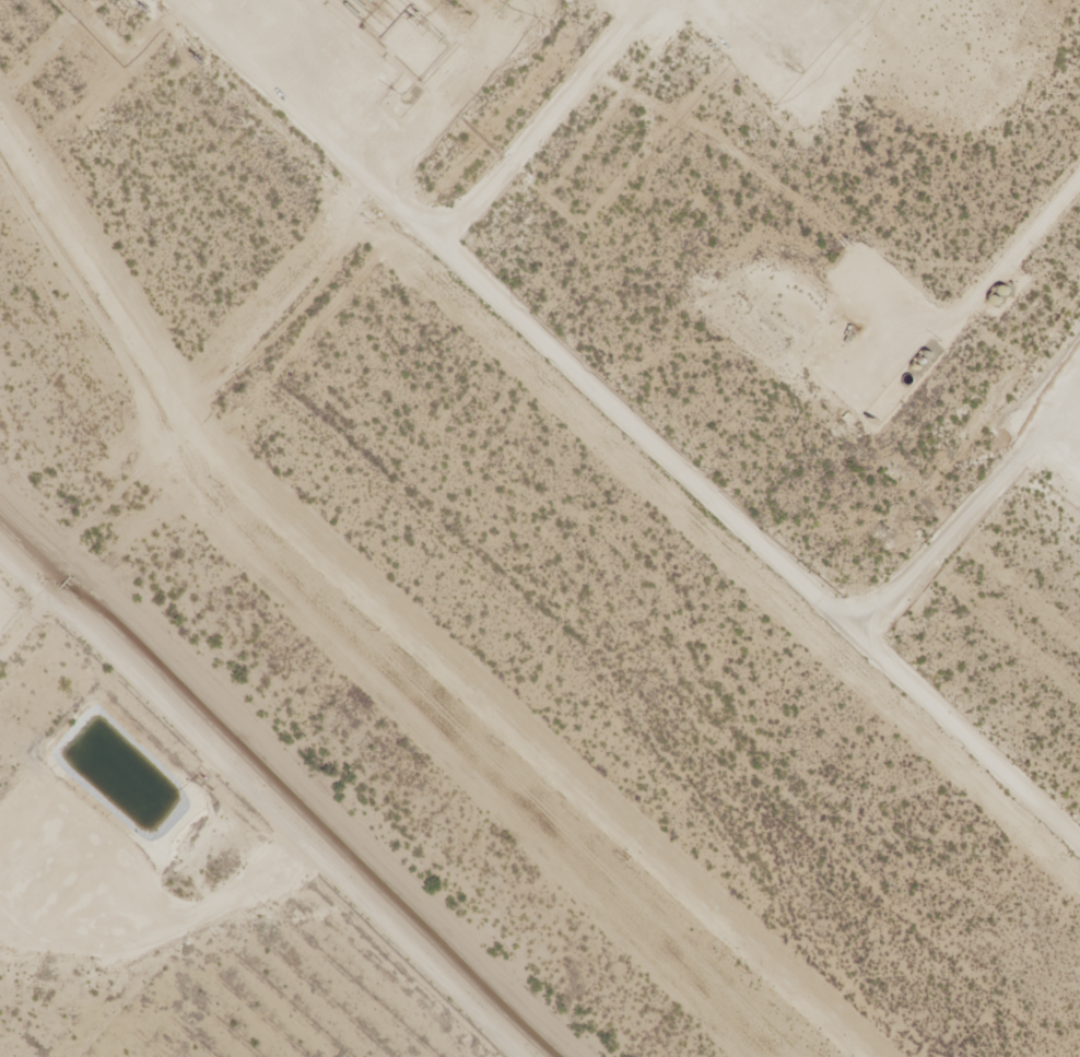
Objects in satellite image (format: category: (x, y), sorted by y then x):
road: (24, 611)
road: (263, 799)

